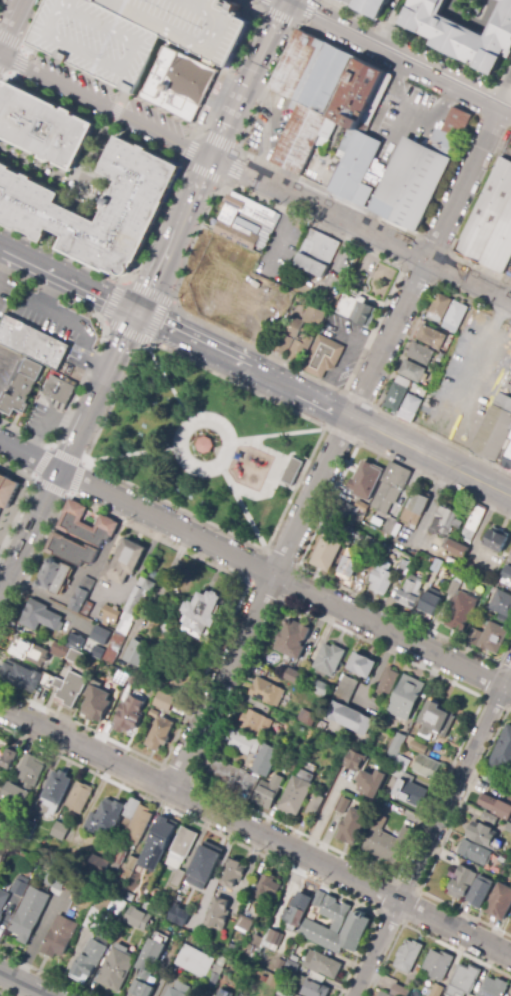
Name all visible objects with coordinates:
road: (0, 0)
traffic signals: (287, 0)
building: (347, 0)
building: (374, 6)
parking lot: (97, 13)
road: (287, 21)
road: (33, 22)
road: (12, 27)
building: (135, 32)
building: (465, 33)
road: (23, 46)
road: (393, 54)
road: (16, 55)
building: (154, 60)
building: (186, 74)
road: (248, 78)
road: (504, 91)
building: (319, 94)
road: (104, 106)
road: (115, 108)
parking lot: (405, 109)
road: (506, 110)
road: (470, 112)
road: (184, 122)
building: (42, 126)
building: (259, 133)
road: (198, 135)
road: (96, 149)
road: (36, 166)
building: (398, 171)
road: (170, 191)
building: (482, 206)
road: (94, 210)
building: (36, 211)
building: (245, 222)
road: (360, 229)
building: (496, 233)
road: (172, 234)
parking lot: (275, 247)
building: (315, 253)
road: (400, 266)
road: (68, 277)
parking lot: (310, 277)
road: (147, 292)
road: (113, 302)
building: (430, 302)
building: (346, 304)
building: (438, 307)
building: (448, 310)
traffic signals: (137, 311)
building: (315, 314)
road: (155, 321)
building: (293, 327)
building: (422, 331)
road: (125, 333)
building: (449, 339)
building: (34, 341)
building: (281, 343)
parking lot: (340, 346)
building: (315, 348)
building: (413, 349)
road: (93, 359)
building: (403, 367)
road: (166, 381)
building: (23, 388)
building: (60, 389)
building: (422, 390)
road: (98, 391)
building: (386, 394)
building: (395, 394)
road: (323, 403)
building: (402, 403)
building: (409, 407)
road: (218, 421)
building: (489, 427)
road: (276, 435)
building: (203, 444)
park: (204, 445)
road: (335, 447)
building: (507, 449)
road: (127, 454)
road: (29, 455)
road: (66, 457)
building: (291, 471)
building: (358, 476)
building: (391, 487)
road: (50, 488)
building: (8, 489)
road: (26, 494)
building: (359, 505)
road: (241, 507)
building: (415, 509)
building: (351, 513)
building: (444, 523)
building: (473, 524)
building: (86, 525)
building: (391, 527)
road: (29, 531)
building: (356, 533)
building: (498, 538)
road: (258, 547)
building: (456, 548)
building: (72, 549)
building: (327, 553)
building: (433, 554)
building: (123, 560)
building: (370, 562)
building: (500, 562)
building: (349, 564)
building: (82, 566)
building: (404, 567)
building: (440, 567)
building: (450, 571)
building: (506, 576)
building: (55, 577)
road: (285, 578)
building: (382, 578)
building: (410, 590)
building: (493, 590)
road: (243, 593)
building: (82, 594)
building: (137, 600)
building: (430, 603)
building: (501, 603)
building: (461, 605)
building: (87, 609)
building: (490, 612)
building: (203, 614)
building: (110, 615)
building: (165, 617)
building: (41, 618)
building: (100, 636)
building: (291, 638)
building: (490, 638)
building: (115, 646)
building: (27, 650)
building: (97, 650)
building: (73, 651)
building: (137, 651)
building: (327, 658)
building: (360, 664)
building: (292, 675)
building: (24, 676)
building: (122, 679)
building: (131, 680)
building: (387, 680)
building: (320, 688)
building: (70, 689)
building: (142, 690)
building: (264, 691)
building: (125, 693)
building: (408, 697)
building: (163, 701)
building: (96, 702)
building: (348, 708)
building: (282, 710)
building: (153, 714)
building: (129, 715)
building: (310, 719)
building: (435, 721)
building: (256, 724)
building: (162, 734)
building: (244, 743)
building: (412, 744)
building: (396, 747)
building: (428, 752)
building: (502, 752)
building: (7, 759)
building: (284, 759)
building: (266, 760)
building: (356, 760)
building: (293, 763)
building: (401, 764)
building: (426, 767)
building: (233, 777)
building: (29, 781)
building: (373, 782)
building: (498, 783)
building: (0, 789)
building: (408, 789)
building: (55, 790)
building: (268, 792)
building: (296, 794)
building: (79, 798)
building: (314, 805)
building: (344, 805)
building: (496, 807)
building: (131, 808)
building: (106, 817)
building: (489, 819)
building: (352, 825)
building: (138, 826)
building: (27, 829)
road: (255, 830)
building: (59, 831)
building: (9, 832)
road: (432, 833)
building: (481, 834)
road: (230, 840)
building: (386, 842)
road: (441, 843)
building: (158, 844)
building: (3, 853)
building: (180, 853)
building: (474, 853)
building: (119, 855)
building: (132, 863)
building: (97, 865)
building: (202, 865)
building: (233, 873)
building: (65, 883)
building: (462, 883)
building: (19, 886)
building: (267, 888)
building: (480, 891)
building: (318, 899)
building: (3, 901)
building: (500, 903)
building: (103, 909)
building: (154, 909)
building: (295, 911)
building: (29, 914)
building: (137, 914)
building: (218, 914)
building: (177, 915)
building: (276, 916)
building: (243, 925)
building: (336, 927)
building: (169, 933)
road: (421, 934)
building: (59, 937)
building: (265, 942)
building: (230, 946)
building: (408, 956)
building: (89, 959)
building: (279, 964)
building: (322, 964)
building: (438, 965)
building: (200, 966)
building: (147, 968)
building: (291, 969)
building: (116, 970)
road: (43, 974)
building: (263, 978)
building: (273, 980)
building: (463, 981)
road: (23, 984)
building: (312, 988)
building: (494, 988)
building: (179, 990)
building: (437, 990)
building: (400, 991)
building: (283, 992)
building: (224, 993)
road: (2, 994)
building: (383, 994)
building: (510, 994)

